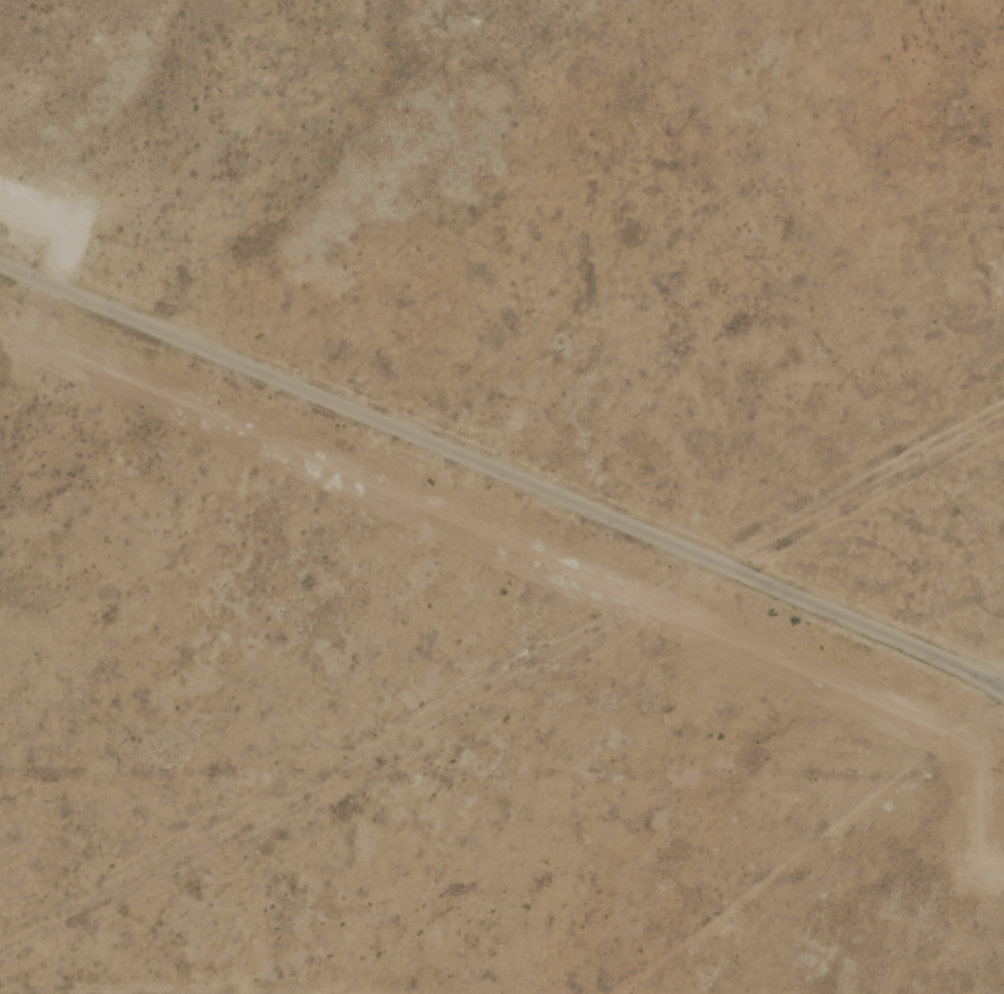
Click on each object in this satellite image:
road: (502, 475)

